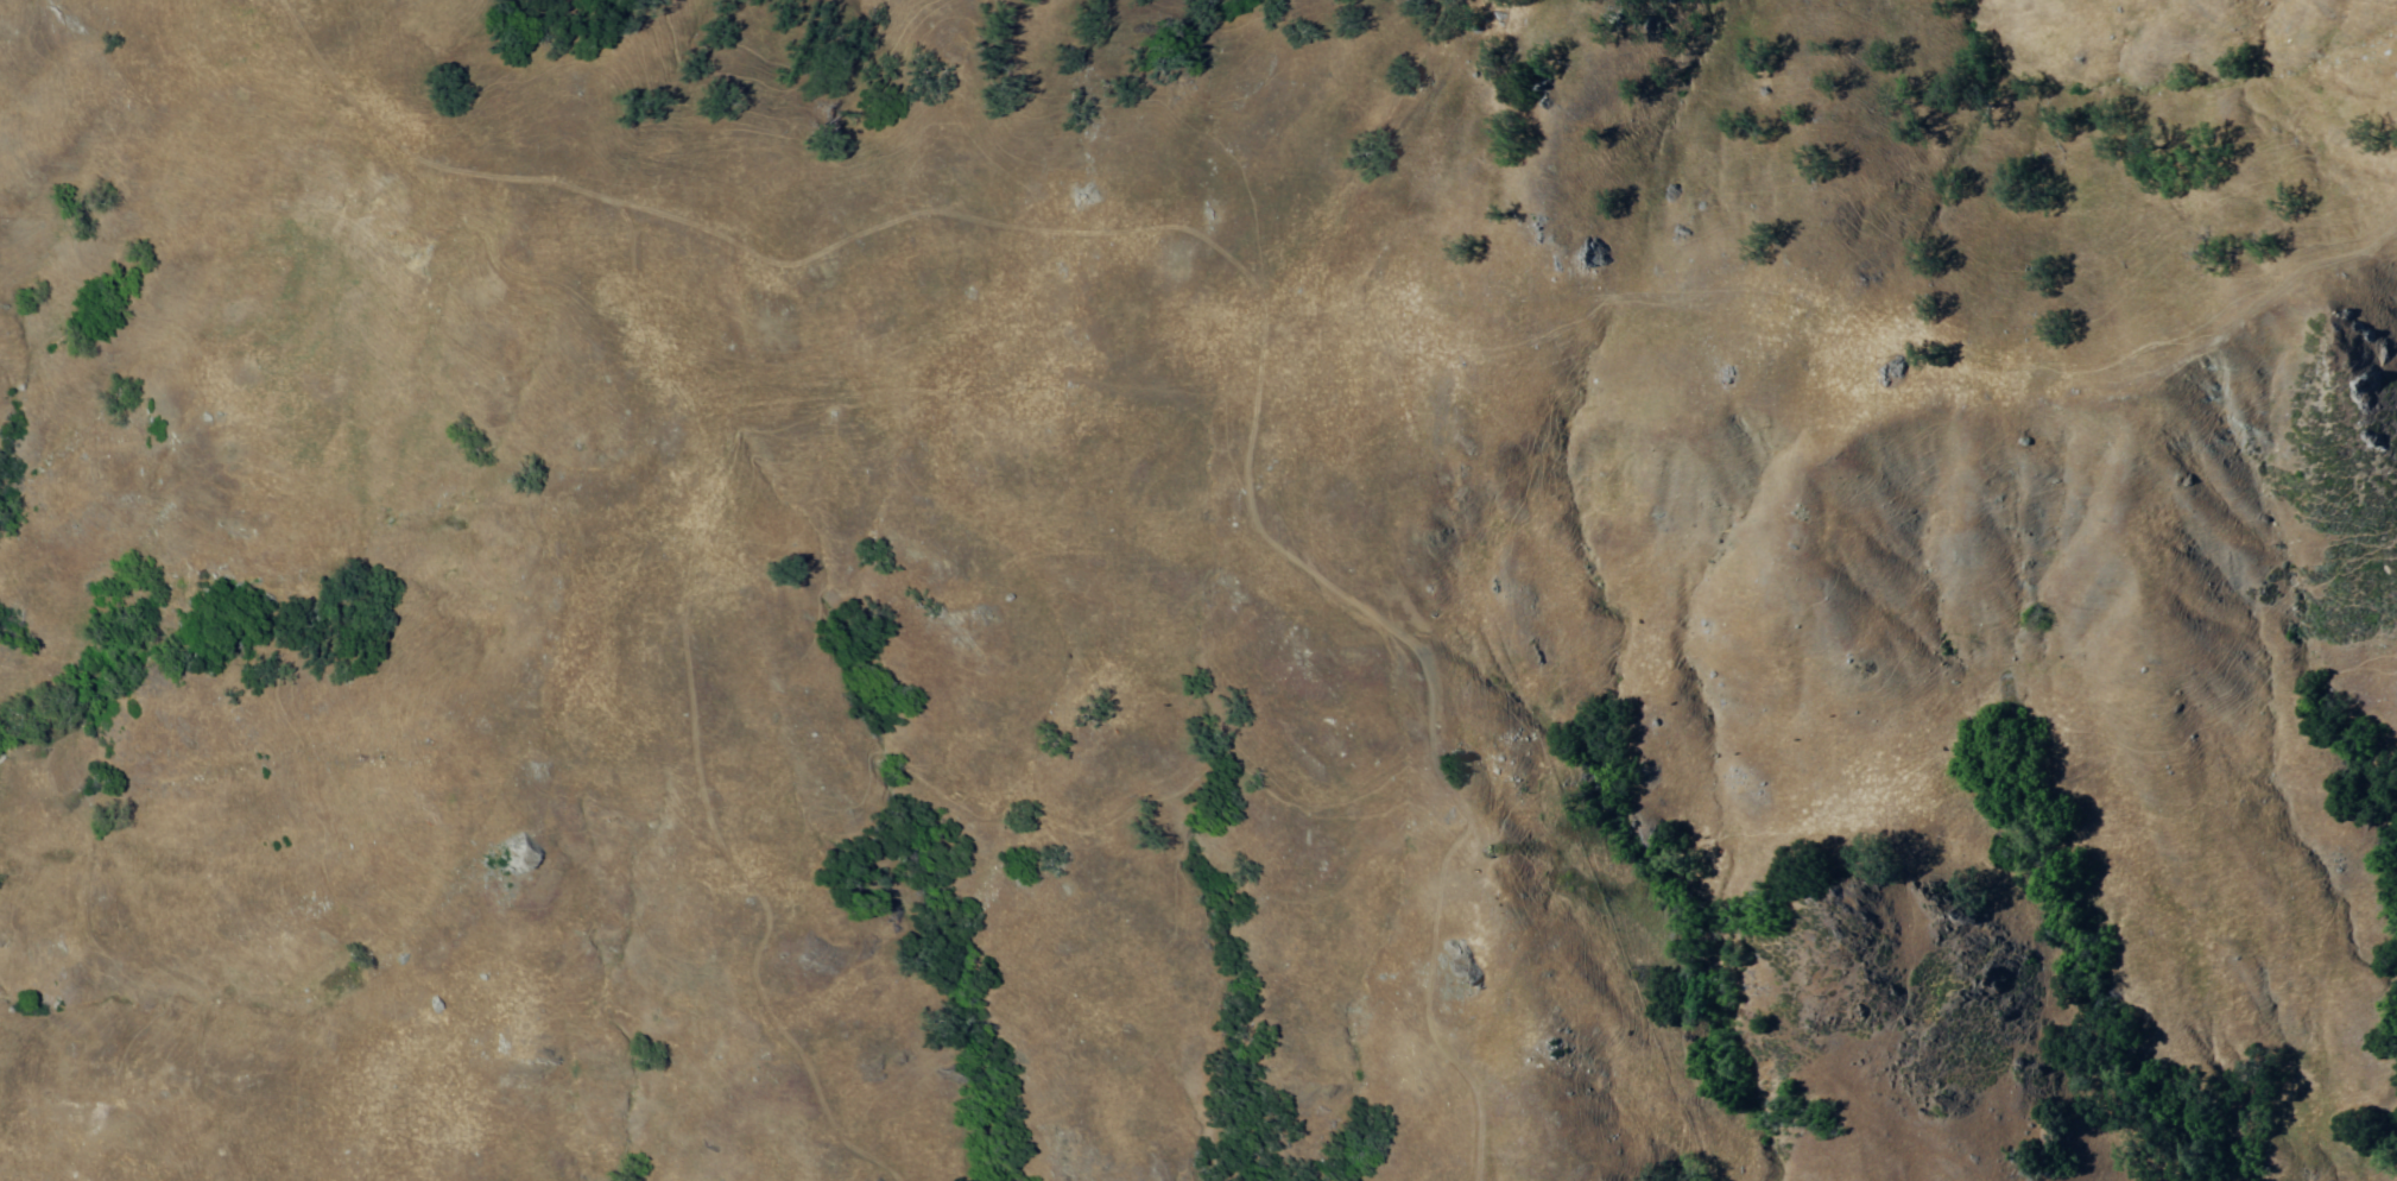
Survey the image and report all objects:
road: (1314, 297)
road: (1329, 579)
road: (696, 728)

